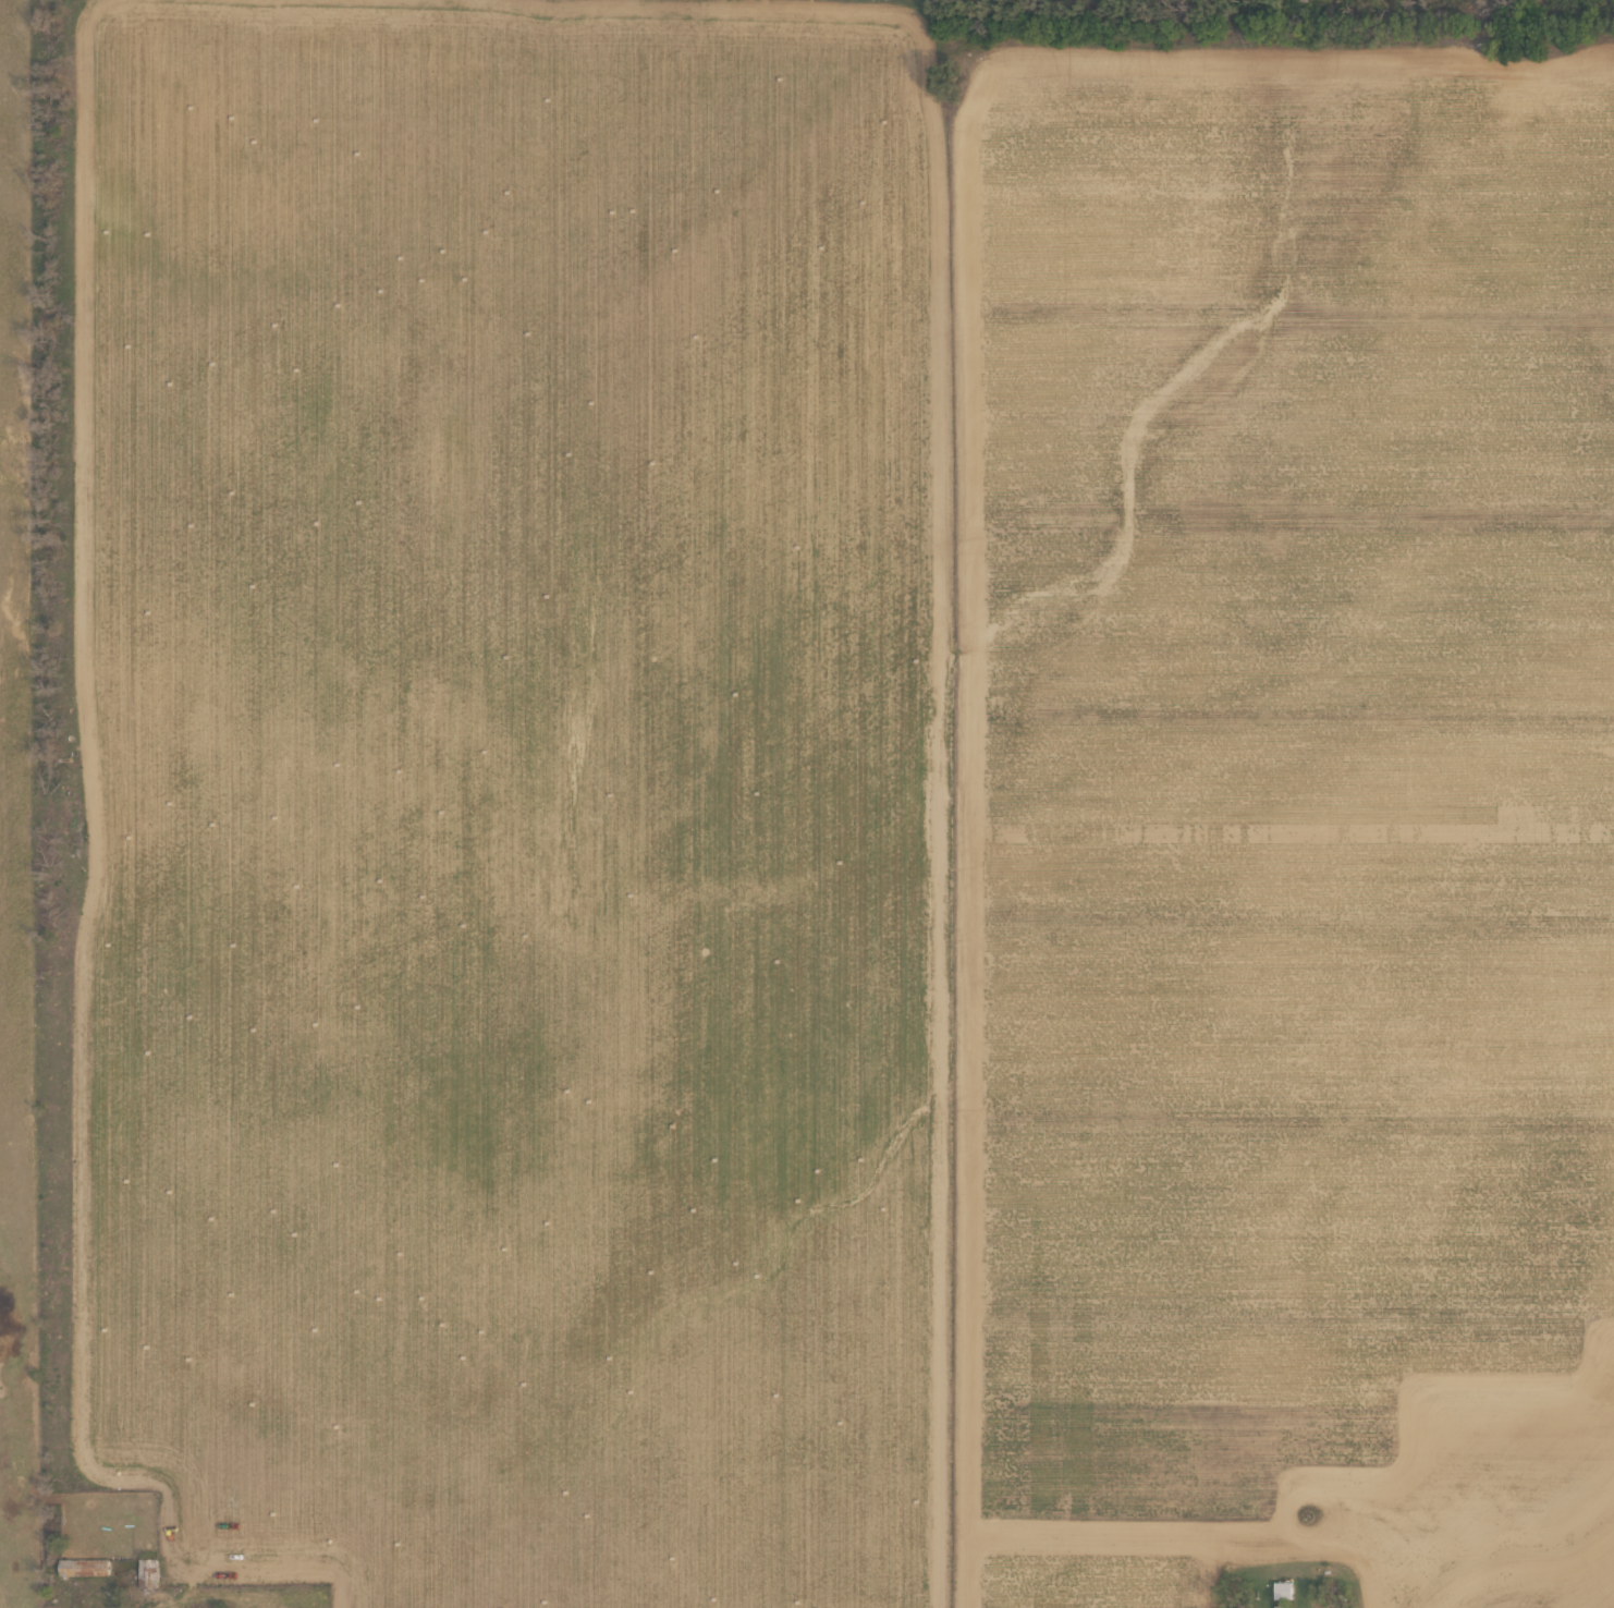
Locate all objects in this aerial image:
building: (82, 1568)
building: (146, 1571)
building: (1281, 1591)
building: (1280, 1607)

